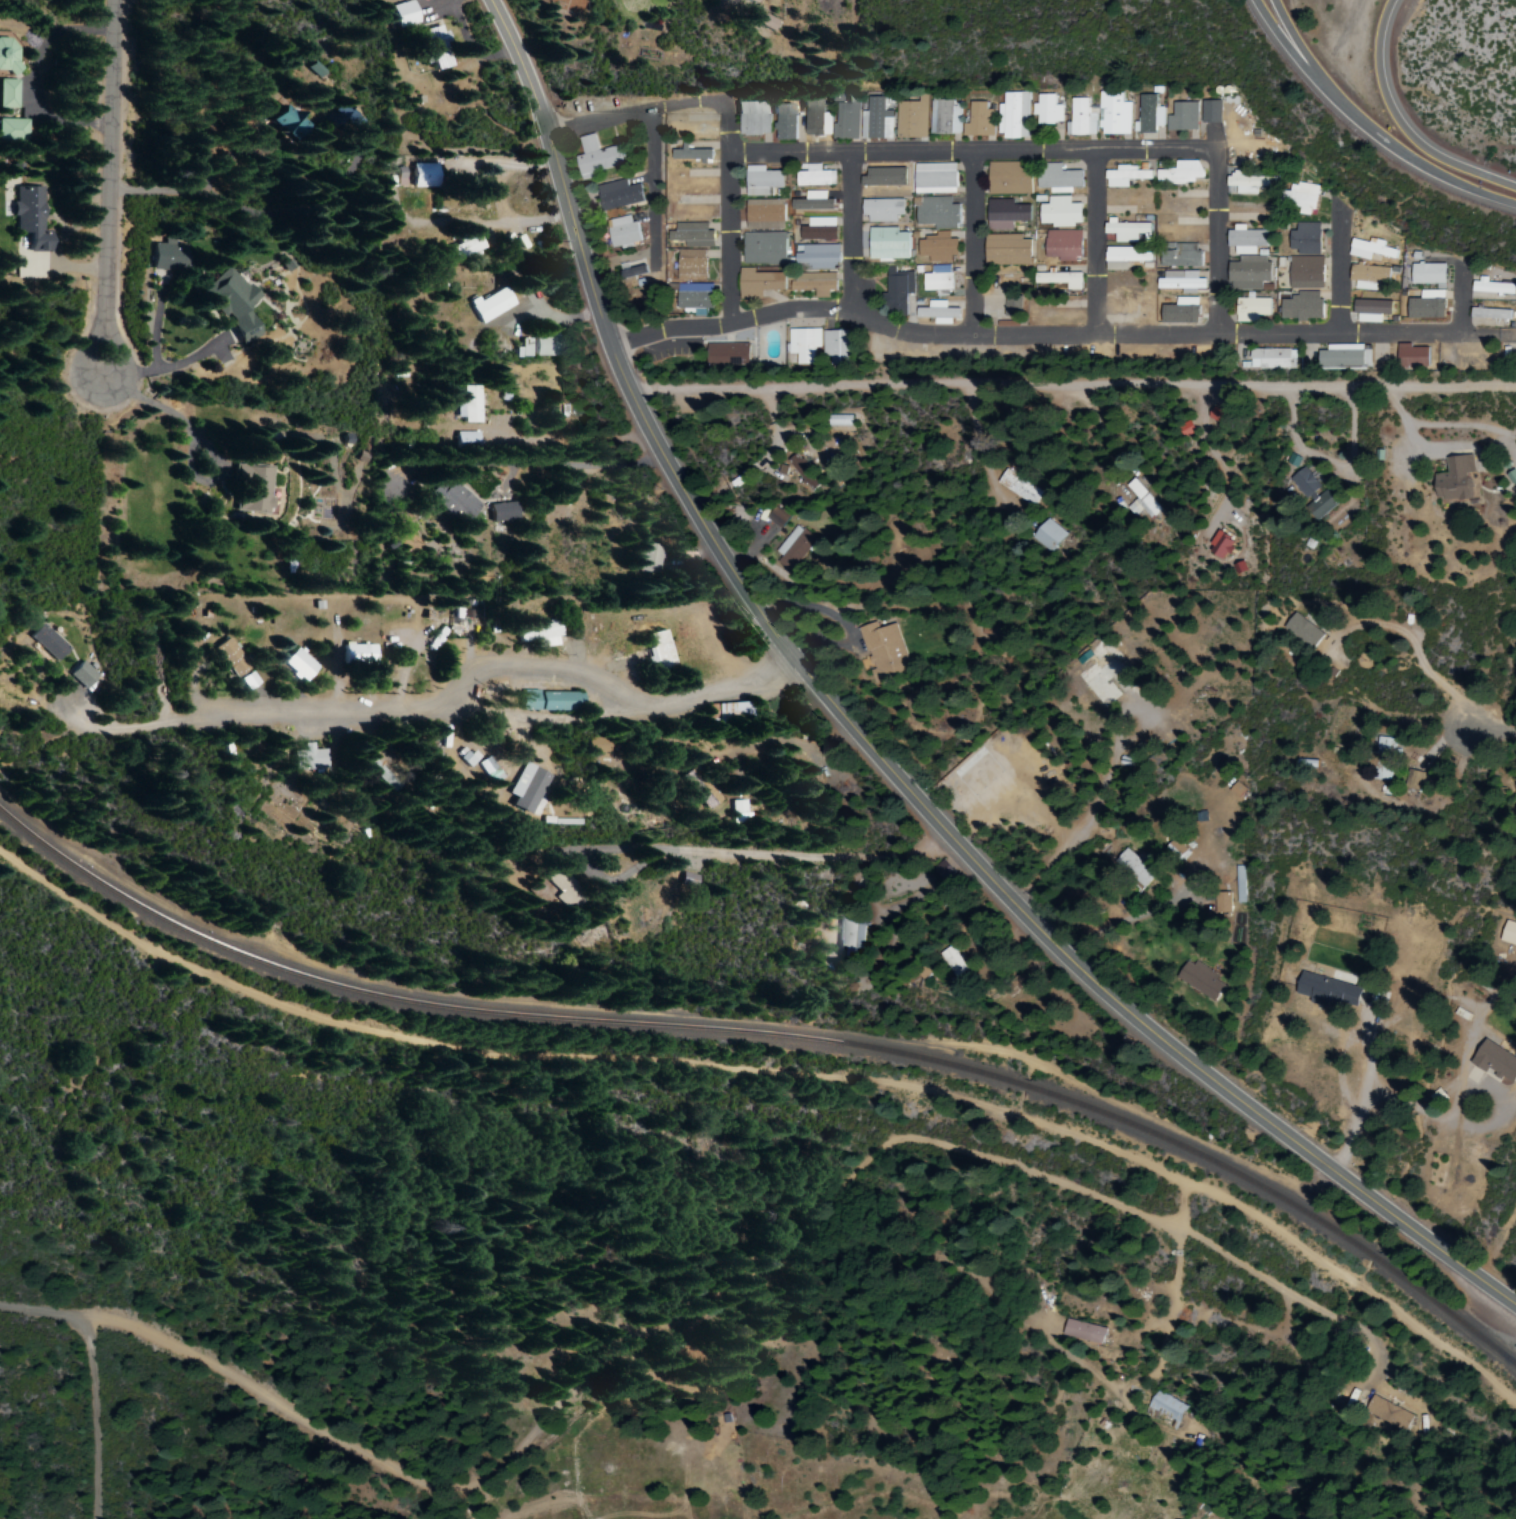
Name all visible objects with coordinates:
building: (747, 1)
building: (402, 14)
building: (766, 21)
building: (435, 47)
road: (1297, 54)
building: (6, 55)
building: (312, 68)
building: (7, 93)
building: (1046, 110)
building: (1209, 112)
building: (1113, 114)
building: (1148, 115)
building: (1012, 116)
building: (344, 117)
building: (1181, 117)
building: (753, 118)
building: (943, 118)
building: (1081, 118)
building: (911, 119)
road: (1409, 119)
building: (876, 120)
building: (845, 121)
building: (978, 121)
building: (783, 122)
road: (1376, 126)
building: (12, 129)
road: (987, 148)
building: (690, 154)
building: (596, 157)
building: (1179, 173)
building: (423, 175)
building: (814, 176)
building: (1124, 176)
building: (934, 179)
building: (1006, 179)
building: (1057, 179)
building: (761, 181)
building: (1247, 183)
road: (113, 187)
building: (617, 195)
building: (1300, 198)
building: (881, 210)
building: (1059, 212)
building: (936, 213)
building: (763, 214)
building: (1004, 214)
building: (817, 229)
road: (856, 230)
building: (1126, 231)
building: (30, 232)
building: (622, 233)
building: (691, 235)
building: (1304, 239)
building: (1245, 240)
road: (979, 241)
road: (1101, 241)
building: (887, 244)
building: (1062, 245)
building: (465, 246)
building: (937, 248)
building: (764, 249)
building: (1006, 250)
building: (1370, 250)
building: (165, 255)
building: (1180, 255)
building: (817, 257)
building: (1125, 257)
building: (690, 262)
road: (1346, 269)
building: (631, 272)
building: (1247, 273)
building: (1304, 273)
building: (1428, 274)
building: (1366, 276)
building: (937, 278)
building: (1060, 280)
building: (1178, 280)
building: (757, 283)
building: (814, 283)
building: (1491, 287)
building: (895, 292)
building: (694, 297)
road: (1467, 297)
road: (651, 302)
building: (231, 303)
building: (1011, 303)
building: (488, 304)
building: (1301, 306)
building: (1251, 307)
building: (1370, 310)
building: (937, 312)
building: (1490, 316)
road: (1049, 334)
building: (803, 344)
building: (540, 346)
building: (835, 346)
building: (521, 348)
building: (726, 355)
building: (1343, 356)
building: (1411, 356)
building: (1270, 359)
building: (468, 405)
building: (838, 421)
building: (1184, 429)
building: (464, 438)
building: (803, 471)
building: (1511, 477)
building: (1453, 479)
building: (252, 487)
building: (1019, 487)
building: (1313, 494)
building: (451, 500)
building: (1140, 501)
building: (499, 511)
building: (775, 517)
building: (1047, 535)
building: (1219, 546)
building: (793, 548)
building: (645, 558)
building: (1301, 630)
building: (539, 633)
building: (45, 641)
building: (882, 648)
building: (657, 649)
building: (357, 653)
building: (229, 656)
building: (297, 664)
building: (81, 673)
building: (249, 680)
road: (463, 690)
building: (548, 699)
building: (725, 708)
road: (1493, 734)
building: (1384, 746)
road: (876, 747)
building: (307, 756)
building: (468, 757)
building: (377, 768)
building: (1380, 771)
building: (526, 787)
building: (1236, 789)
building: (702, 790)
building: (738, 810)
building: (1175, 849)
building: (1133, 867)
building: (942, 869)
building: (686, 879)
building: (1240, 884)
building: (561, 888)
building: (1221, 902)
building: (1508, 933)
building: (852, 934)
road: (976, 943)
building: (952, 961)
building: (1199, 980)
building: (1326, 990)
railway: (774, 1034)
building: (1494, 1060)
road: (877, 1150)
building: (1082, 1331)
road: (253, 1379)
building: (1166, 1406)
road: (99, 1408)
building: (1387, 1413)

